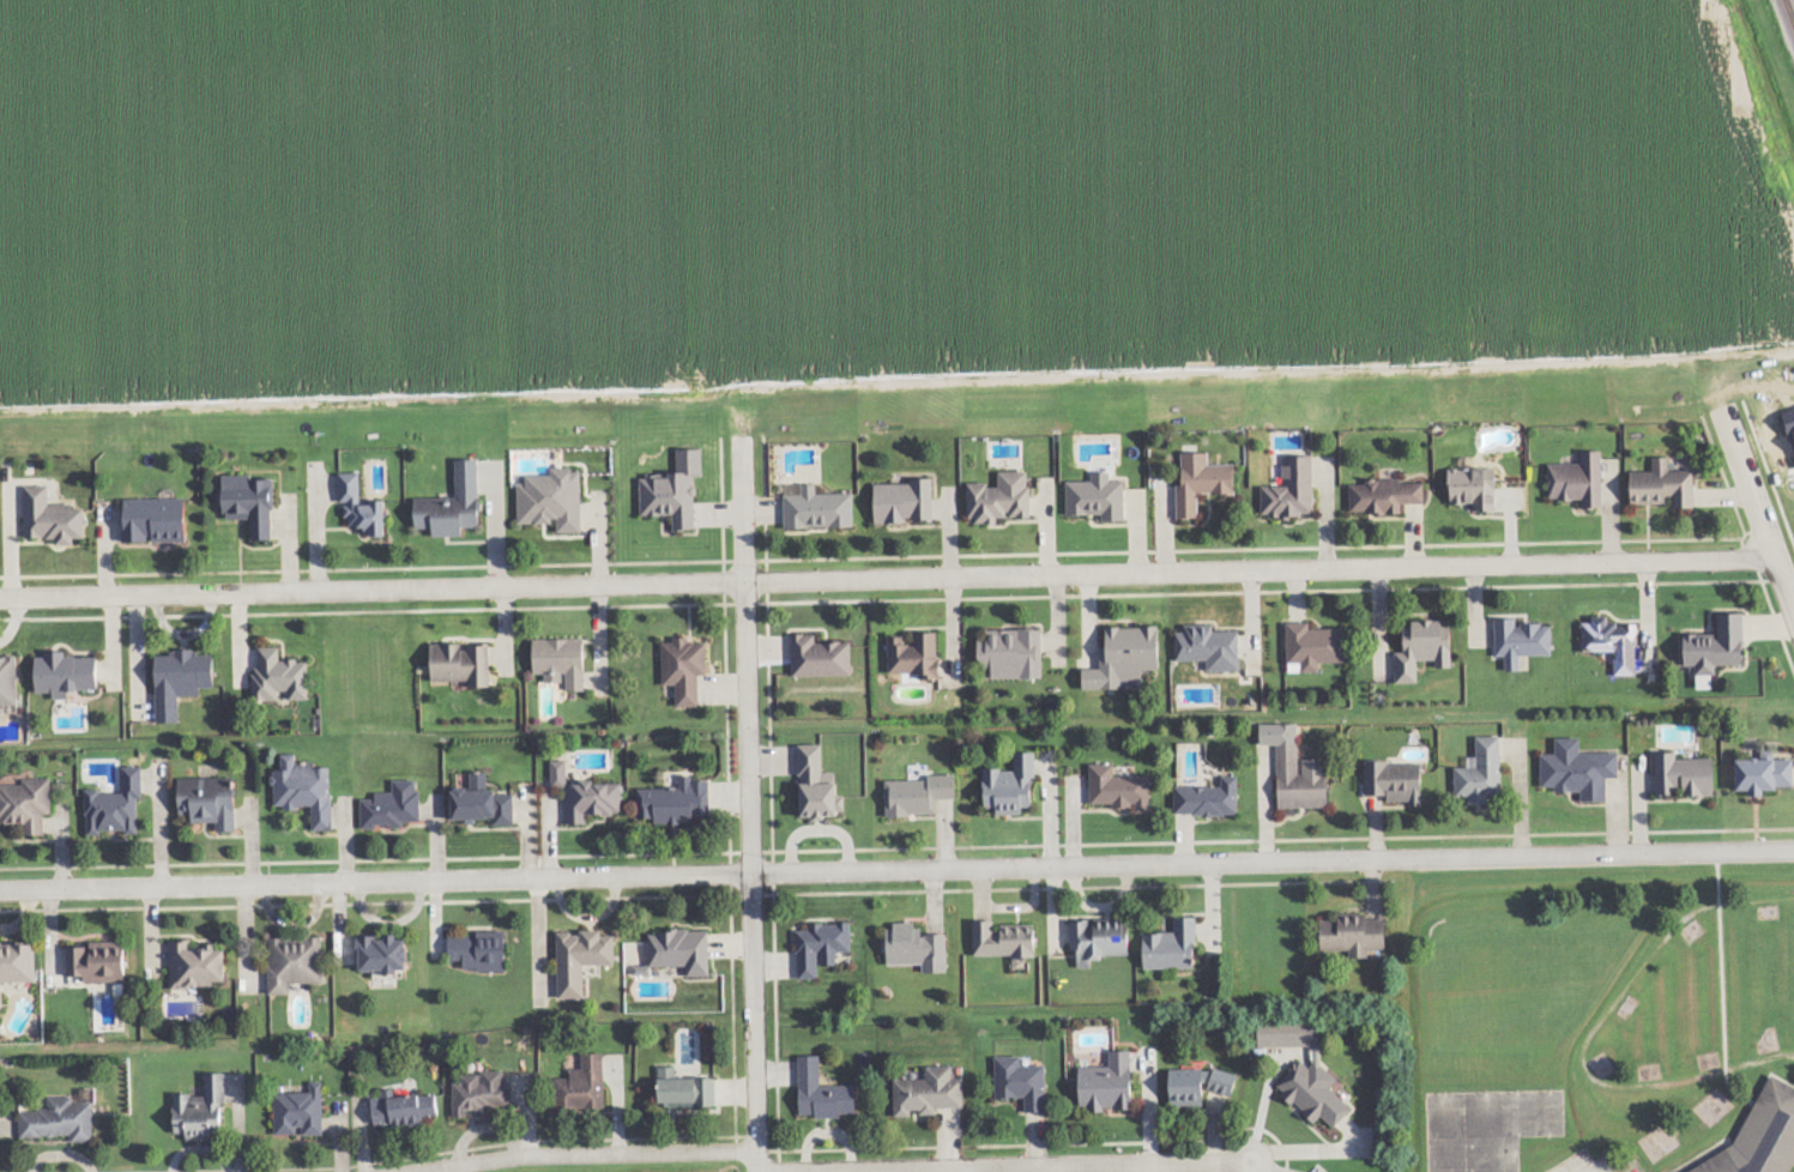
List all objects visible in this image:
railway: (1792, 5)
building: (1206, 477)
building: (1581, 478)
road: (1752, 482)
building: (1666, 483)
building: (1478, 484)
building: (1295, 485)
building: (1388, 491)
building: (675, 493)
building: (1004, 494)
building: (1100, 494)
building: (556, 495)
building: (907, 497)
building: (255, 499)
building: (458, 500)
building: (367, 503)
building: (822, 505)
building: (55, 513)
building: (159, 515)
road: (749, 519)
road: (887, 575)
road: (1784, 579)
building: (1527, 636)
building: (1617, 639)
building: (1213, 642)
building: (1317, 642)
building: (1427, 642)
building: (1720, 642)
building: (1016, 648)
building: (919, 651)
building: (823, 652)
building: (1129, 653)
building: (564, 657)
building: (465, 659)
building: (689, 664)
building: (70, 669)
building: (283, 672)
building: (11, 676)
building: (185, 676)
building: (1583, 766)
building: (1486, 768)
building: (1766, 769)
building: (1689, 771)
building: (558, 774)
building: (1305, 774)
building: (1399, 777)
building: (1015, 781)
building: (308, 785)
building: (819, 785)
building: (1123, 785)
building: (922, 790)
building: (1213, 795)
building: (596, 796)
building: (213, 797)
building: (679, 799)
building: (28, 801)
building: (490, 801)
building: (120, 803)
building: (394, 803)
road: (751, 863)
road: (896, 866)
building: (1353, 935)
building: (1003, 940)
building: (1099, 940)
building: (685, 946)
building: (483, 947)
building: (1172, 947)
building: (821, 948)
building: (916, 948)
building: (388, 949)
building: (586, 954)
building: (101, 959)
building: (298, 959)
building: (203, 961)
building: (18, 962)
building: (1306, 1073)
building: (587, 1081)
building: (1021, 1083)
building: (1107, 1085)
building: (1198, 1086)
building: (484, 1088)
building: (685, 1091)
building: (823, 1093)
building: (929, 1093)
building: (410, 1105)
building: (205, 1106)
building: (302, 1108)
building: (64, 1116)
building: (1762, 1135)
road: (579, 1148)
road: (761, 1154)
road: (1008, 1164)
road: (761, 1167)

